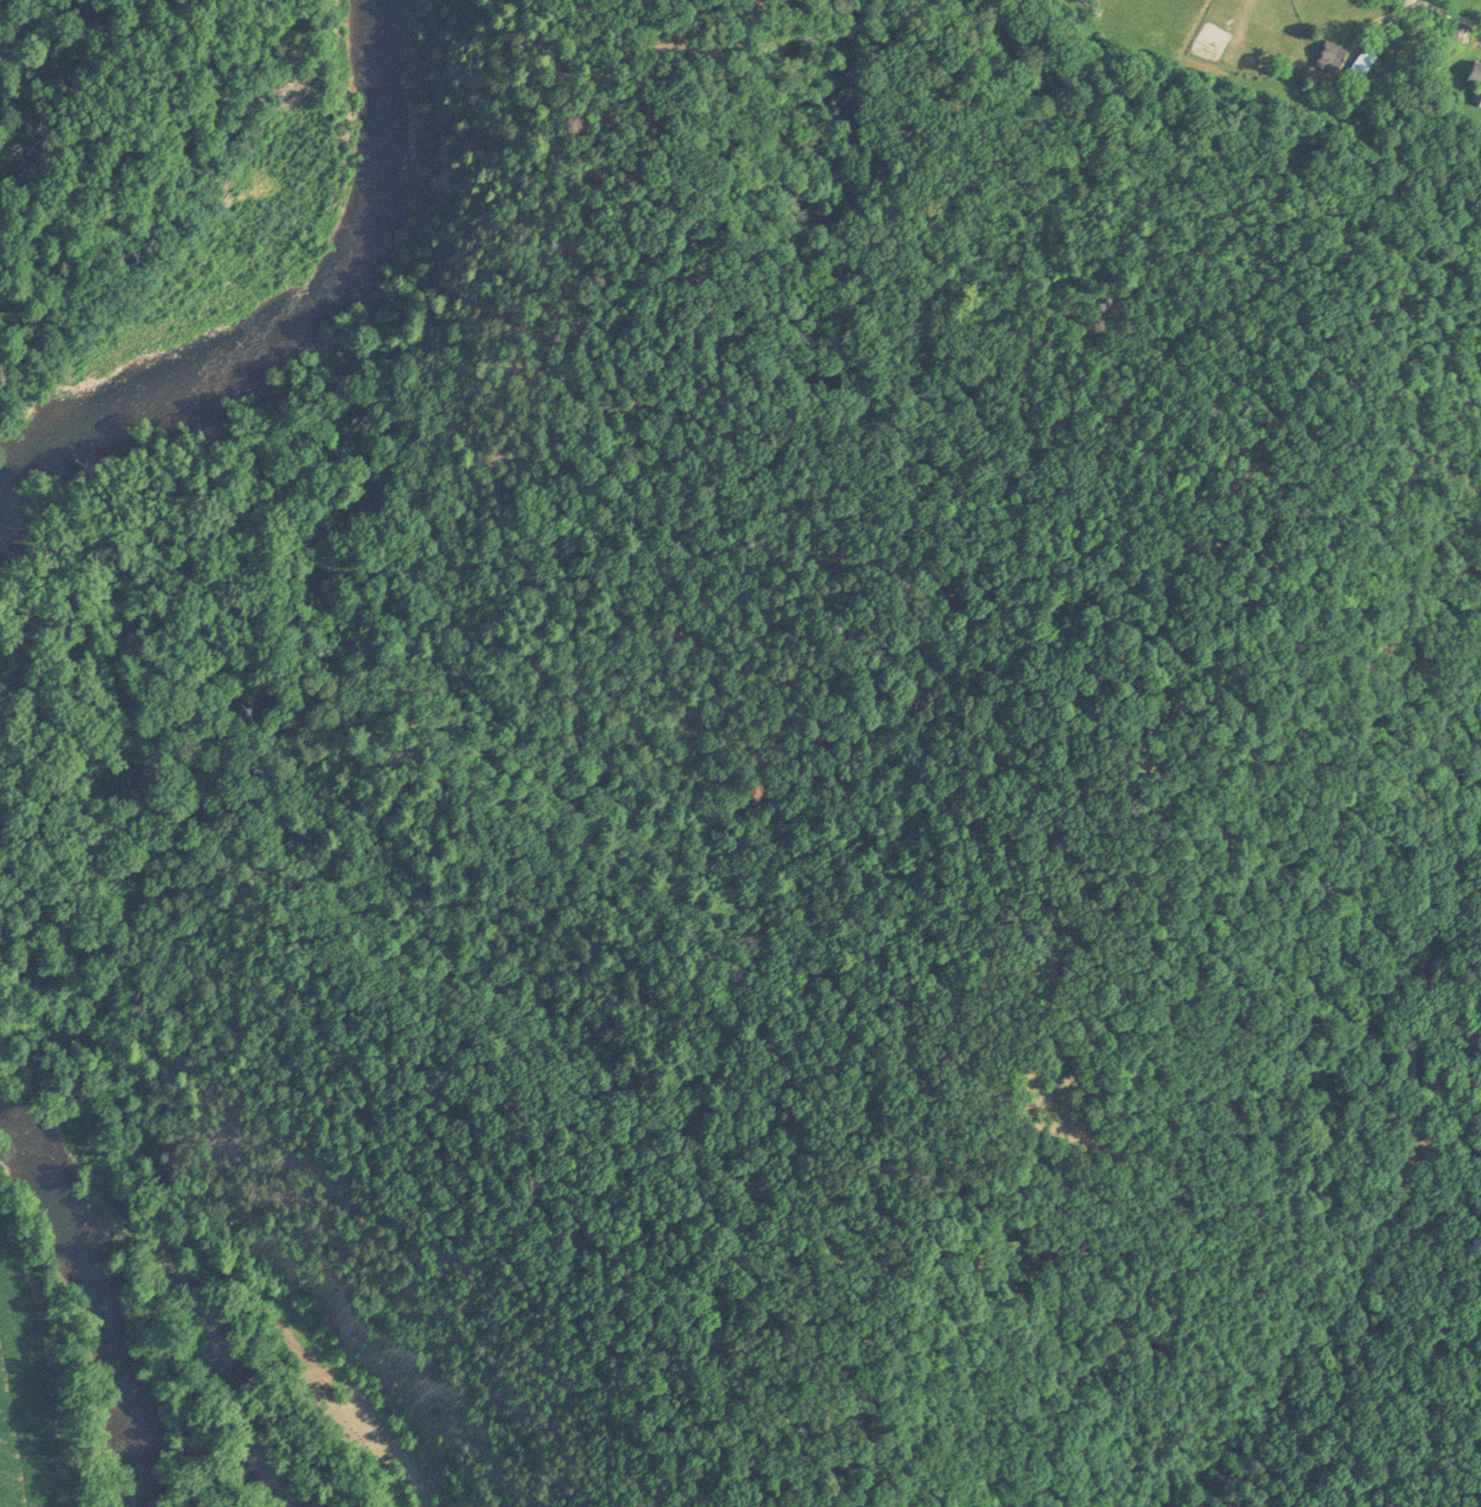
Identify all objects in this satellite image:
road: (1446, 11)
crop: (1300, 31)
building: (1328, 54)
building: (1475, 80)
river: (298, 325)
road: (1398, 1202)
river: (70, 1269)

